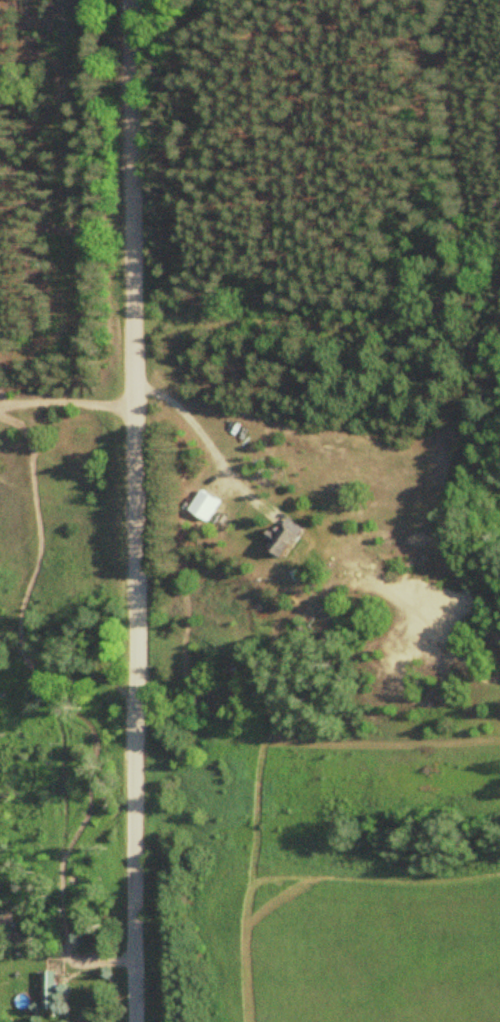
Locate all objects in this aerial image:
road: (67, 402)
building: (208, 504)
road: (134, 510)
building: (288, 536)
building: (52, 989)

